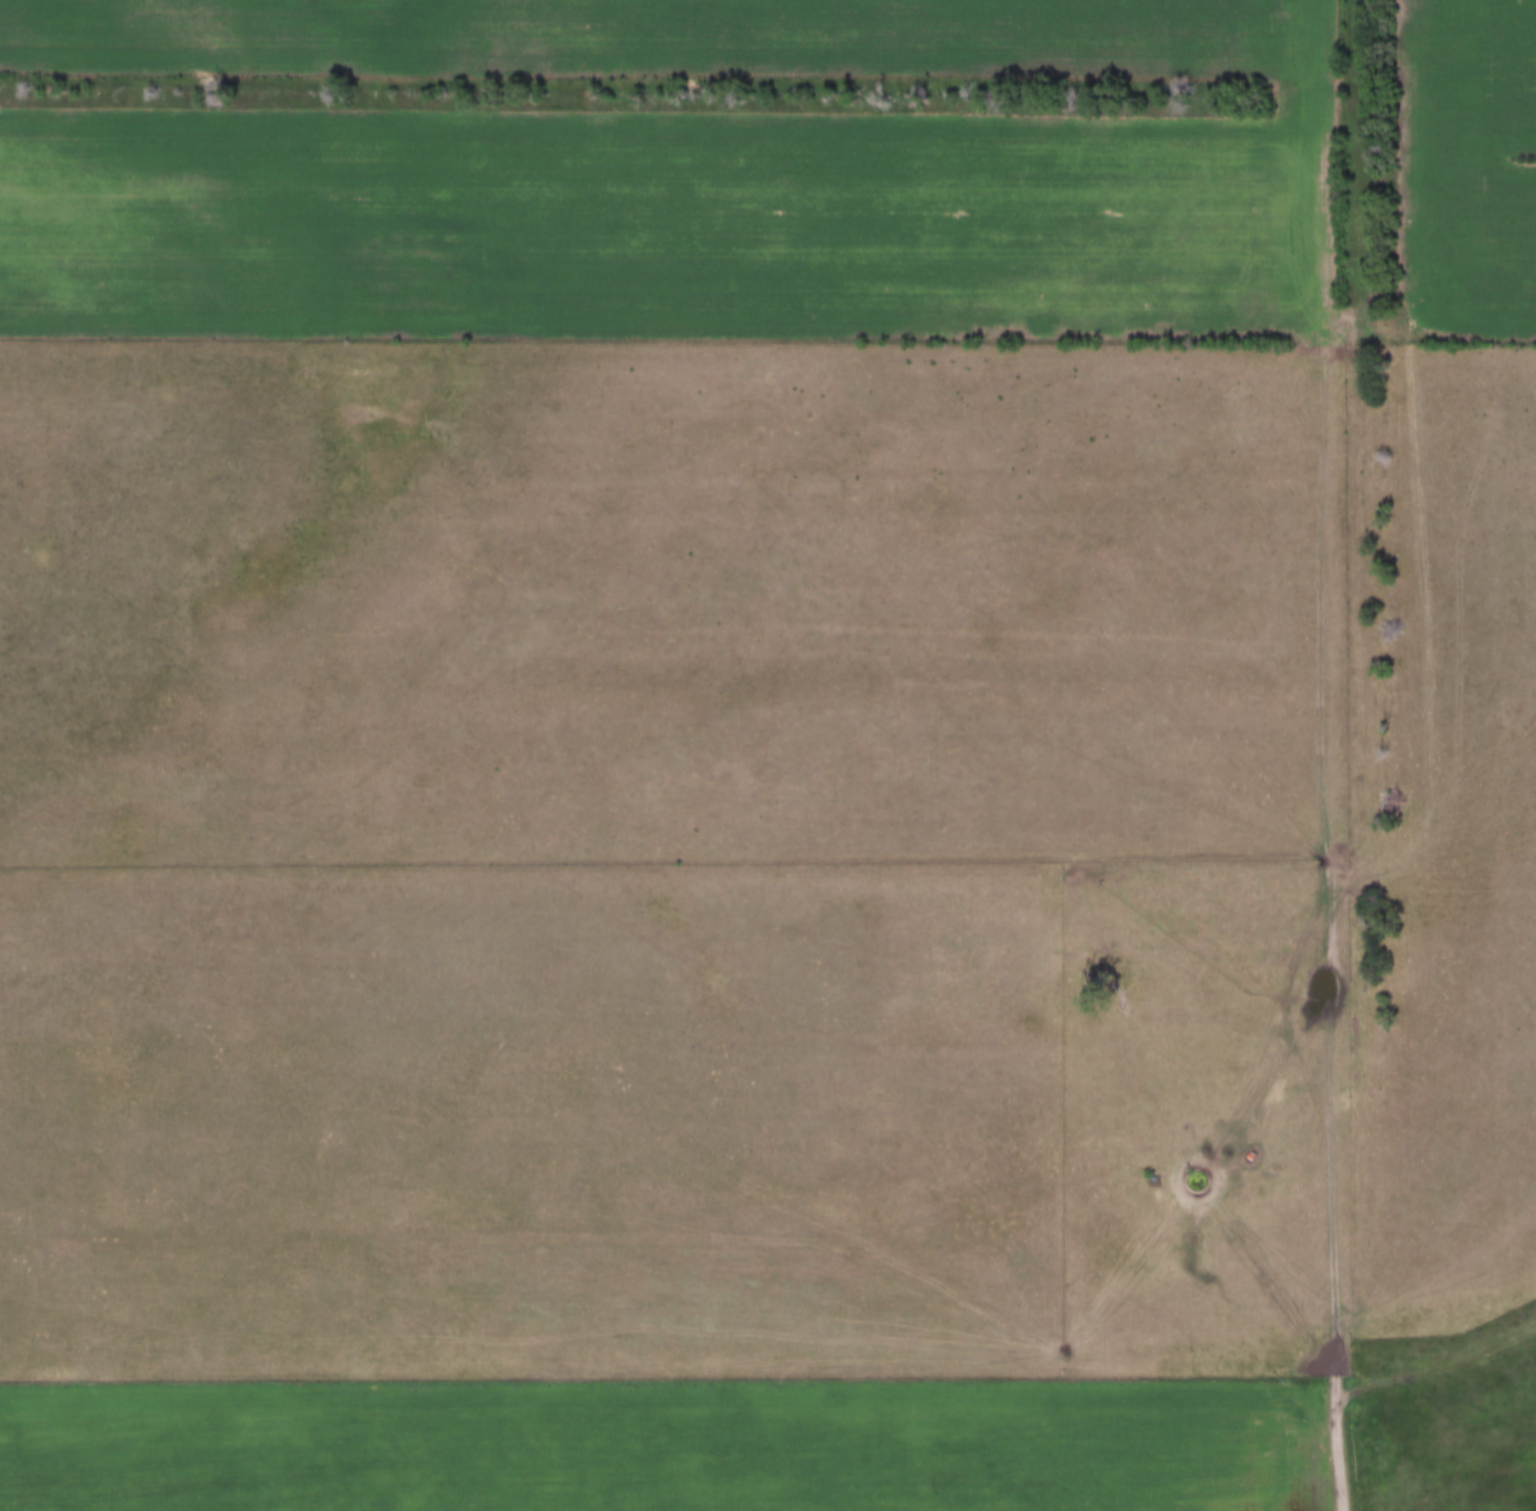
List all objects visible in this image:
road: (1331, 916)

